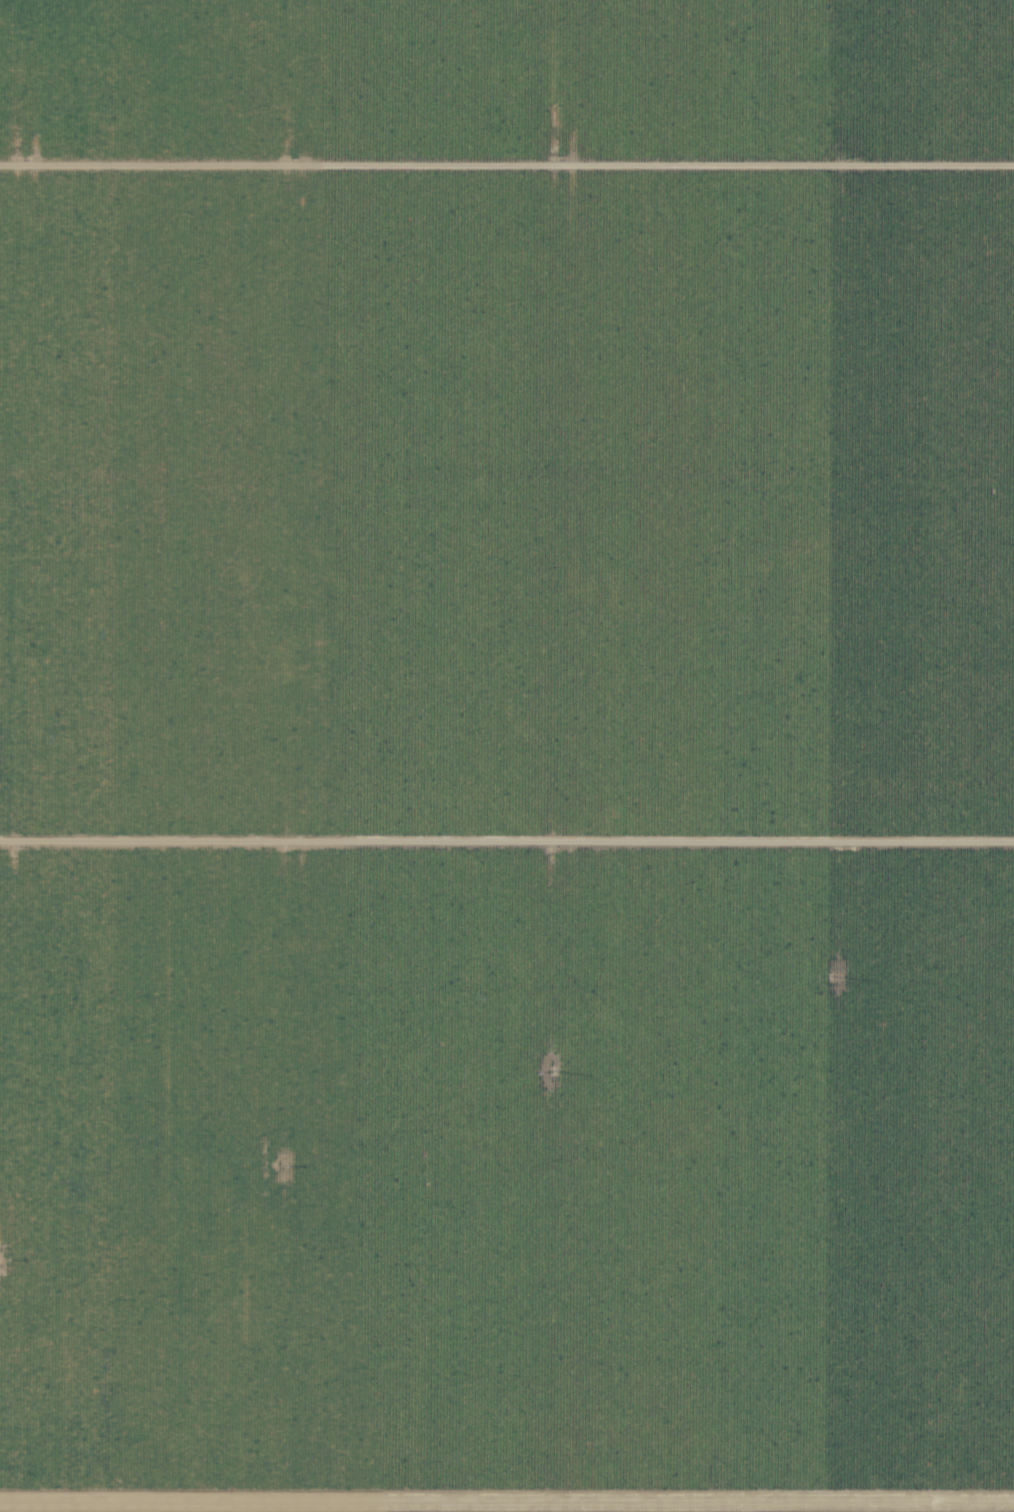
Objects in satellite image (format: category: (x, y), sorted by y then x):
crop: (507, 756)

